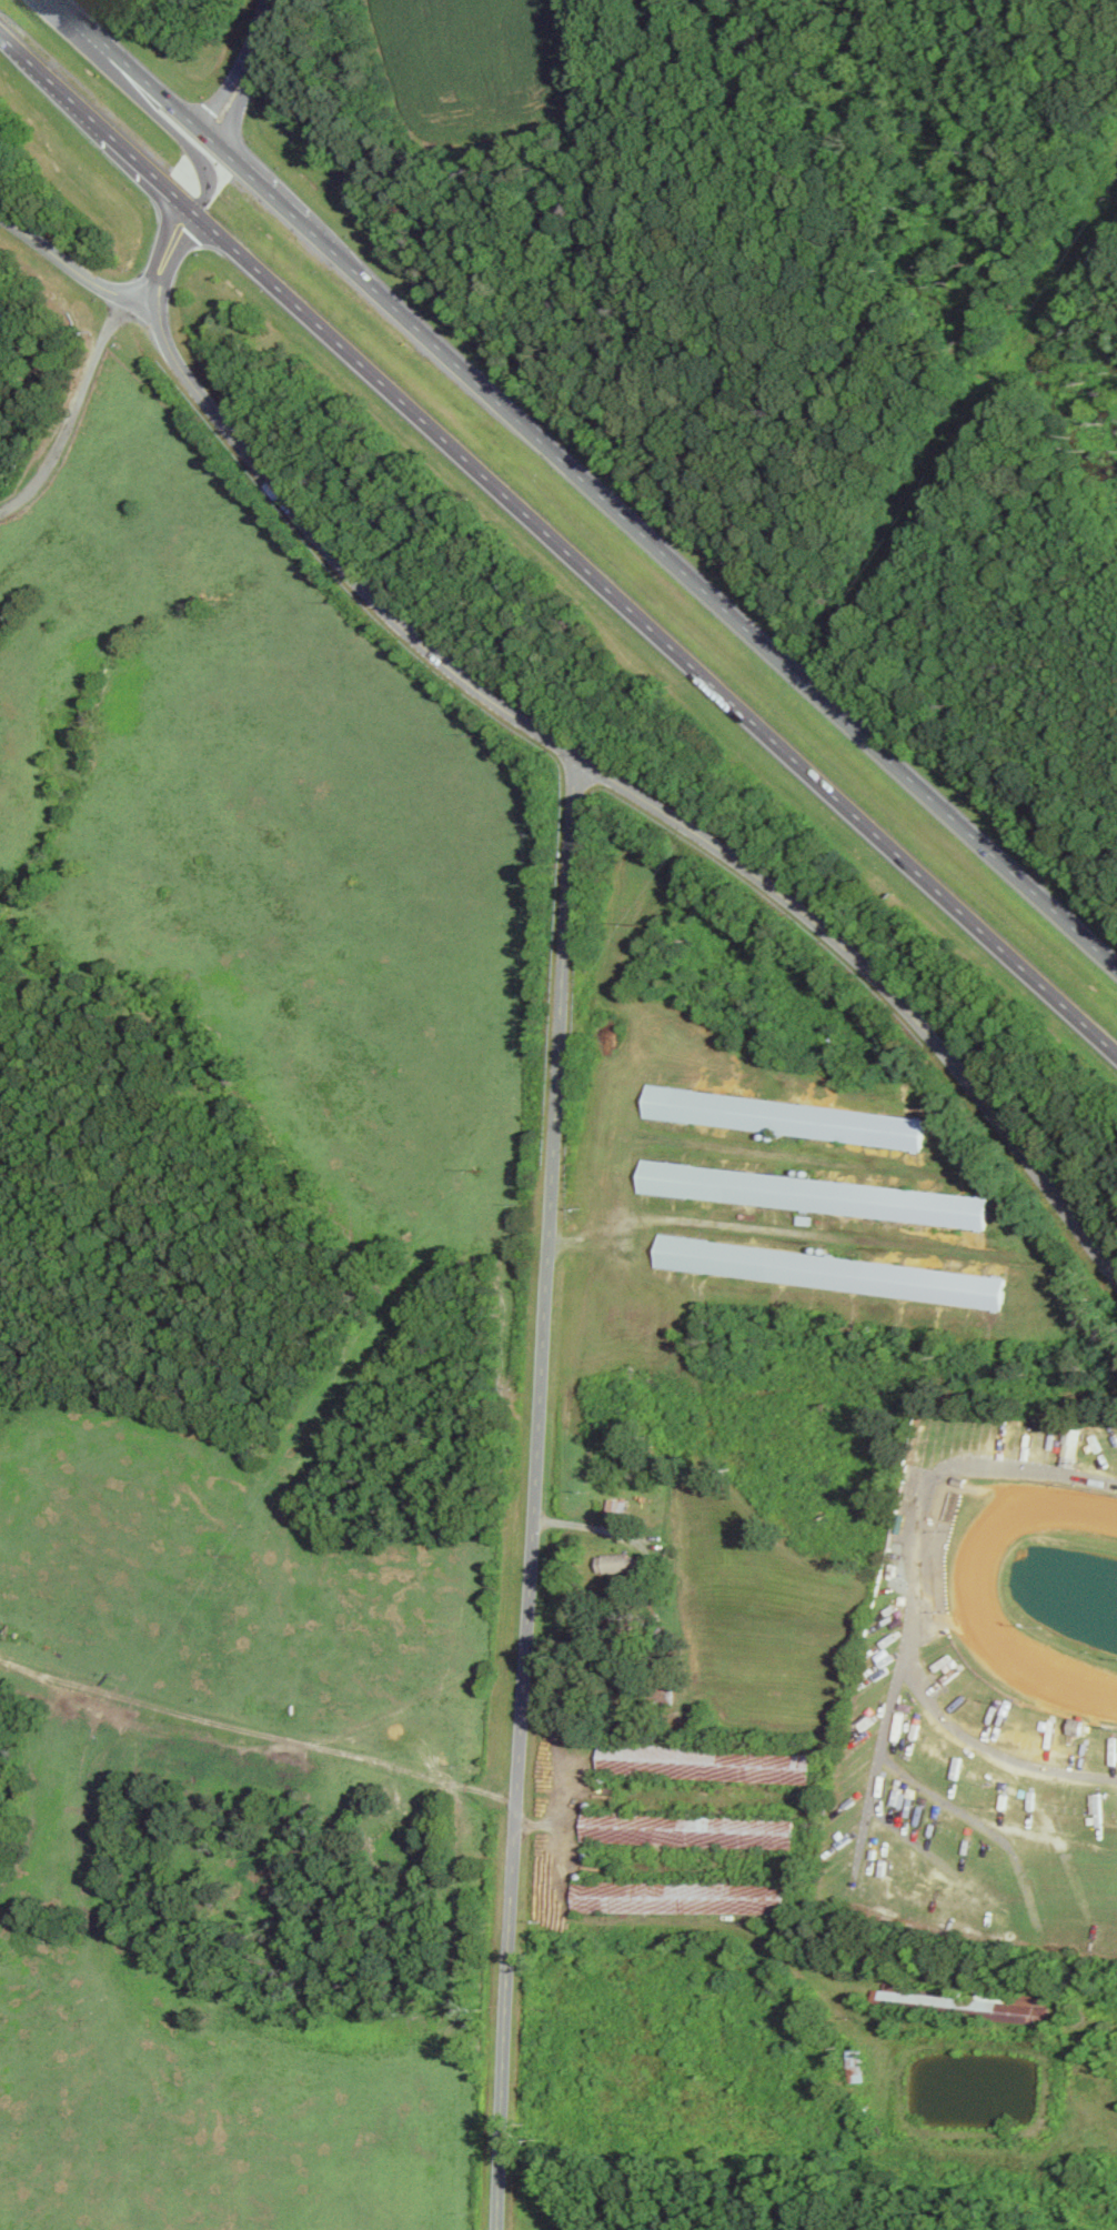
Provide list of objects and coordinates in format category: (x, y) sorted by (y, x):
road: (141, 68)
road: (94, 120)
road: (207, 159)
road: (69, 268)
road: (73, 419)
road: (666, 544)
road: (653, 631)
road: (635, 792)
building: (784, 1116)
building: (814, 1193)
road: (775, 1229)
building: (831, 1270)
building: (1070, 1446)
road: (539, 1493)
road: (592, 1526)
building: (618, 1563)
road: (913, 1598)
road: (225, 1724)
building: (608, 1758)
road: (484, 1791)
building: (975, 2003)
building: (856, 2065)

